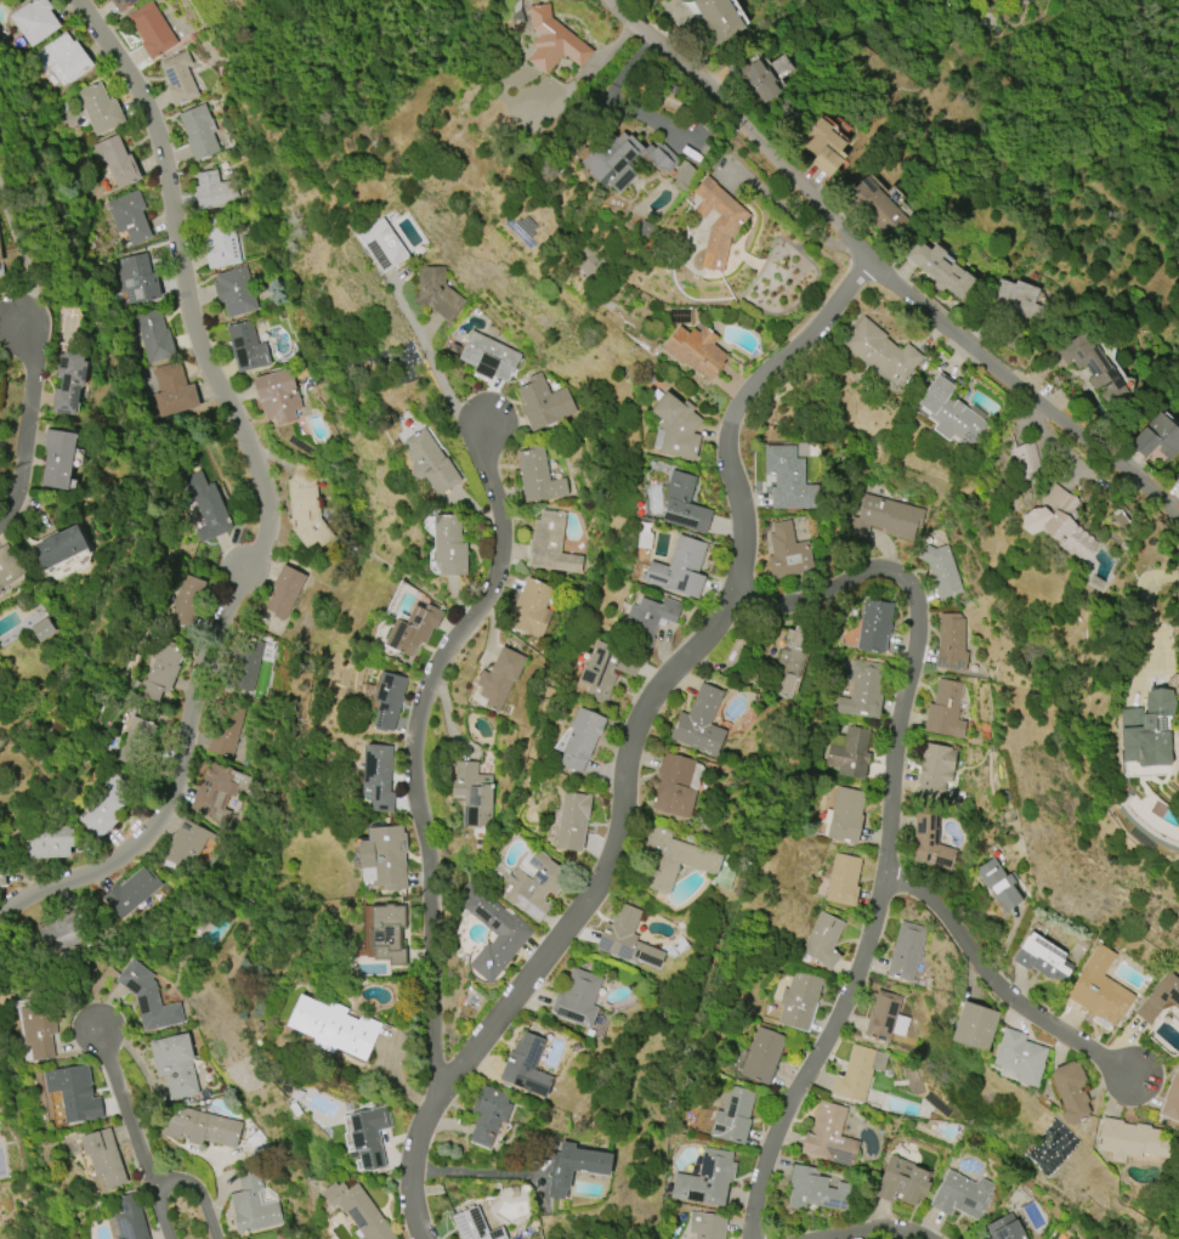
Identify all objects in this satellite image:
building: (121, 4)
building: (34, 21)
building: (716, 21)
building: (151, 30)
building: (552, 41)
building: (61, 60)
building: (753, 77)
building: (178, 78)
road: (580, 78)
road: (620, 104)
building: (100, 109)
building: (198, 132)
building: (822, 146)
building: (623, 159)
building: (117, 162)
building: (682, 176)
building: (214, 191)
building: (877, 209)
road: (788, 213)
building: (129, 217)
building: (0, 221)
building: (718, 221)
building: (220, 244)
building: (381, 245)
road: (25, 255)
building: (590, 264)
building: (940, 270)
road: (883, 271)
building: (136, 279)
building: (234, 293)
building: (436, 293)
building: (1016, 299)
building: (154, 335)
building: (246, 347)
building: (696, 350)
building: (879, 352)
building: (488, 357)
building: (1092, 367)
road: (435, 369)
building: (68, 381)
building: (172, 391)
building: (277, 396)
building: (544, 403)
building: (948, 413)
road: (25, 423)
building: (675, 428)
building: (1157, 437)
building: (57, 458)
building: (1025, 460)
building: (430, 463)
building: (538, 476)
building: (788, 480)
building: (1177, 481)
road: (263, 494)
building: (682, 504)
building: (204, 505)
building: (306, 507)
building: (884, 519)
building: (1059, 524)
building: (549, 544)
building: (449, 545)
building: (59, 548)
building: (787, 553)
building: (8, 566)
building: (679, 568)
building: (941, 570)
building: (0, 592)
building: (284, 592)
building: (182, 599)
building: (531, 609)
building: (648, 619)
building: (874, 626)
building: (413, 629)
building: (42, 630)
building: (951, 643)
building: (789, 660)
building: (245, 664)
building: (627, 664)
building: (161, 672)
building: (599, 672)
building: (499, 678)
building: (862, 690)
building: (389, 700)
building: (945, 711)
building: (699, 723)
building: (226, 729)
building: (1147, 730)
road: (631, 736)
building: (580, 739)
building: (131, 740)
road: (412, 748)
building: (850, 753)
building: (934, 770)
building: (378, 776)
building: (673, 786)
building: (217, 792)
building: (472, 794)
building: (104, 809)
building: (844, 815)
building: (573, 821)
road: (888, 831)
building: (47, 843)
building: (930, 843)
building: (187, 844)
building: (384, 858)
building: (671, 859)
building: (1, 877)
building: (843, 879)
building: (533, 884)
building: (999, 884)
building: (130, 893)
building: (492, 930)
building: (387, 934)
building: (63, 935)
building: (627, 938)
building: (822, 940)
building: (906, 951)
building: (1042, 958)
road: (997, 985)
building: (1099, 990)
building: (148, 997)
building: (577, 997)
building: (1158, 997)
building: (798, 1001)
building: (883, 1017)
building: (974, 1026)
building: (333, 1028)
building: (38, 1030)
building: (761, 1056)
building: (1020, 1057)
building: (174, 1064)
building: (526, 1067)
building: (857, 1073)
building: (1071, 1092)
building: (74, 1093)
building: (1172, 1098)
road: (123, 1103)
building: (488, 1115)
building: (733, 1115)
building: (203, 1128)
building: (369, 1136)
building: (828, 1136)
building: (1130, 1141)
building: (256, 1142)
building: (103, 1158)
building: (574, 1167)
building: (705, 1179)
building: (902, 1182)
road: (195, 1192)
building: (816, 1192)
building: (962, 1195)
building: (253, 1204)
road: (158, 1209)
building: (358, 1211)
building: (127, 1220)
building: (474, 1226)
building: (707, 1226)
road: (877, 1228)
building: (1004, 1228)

